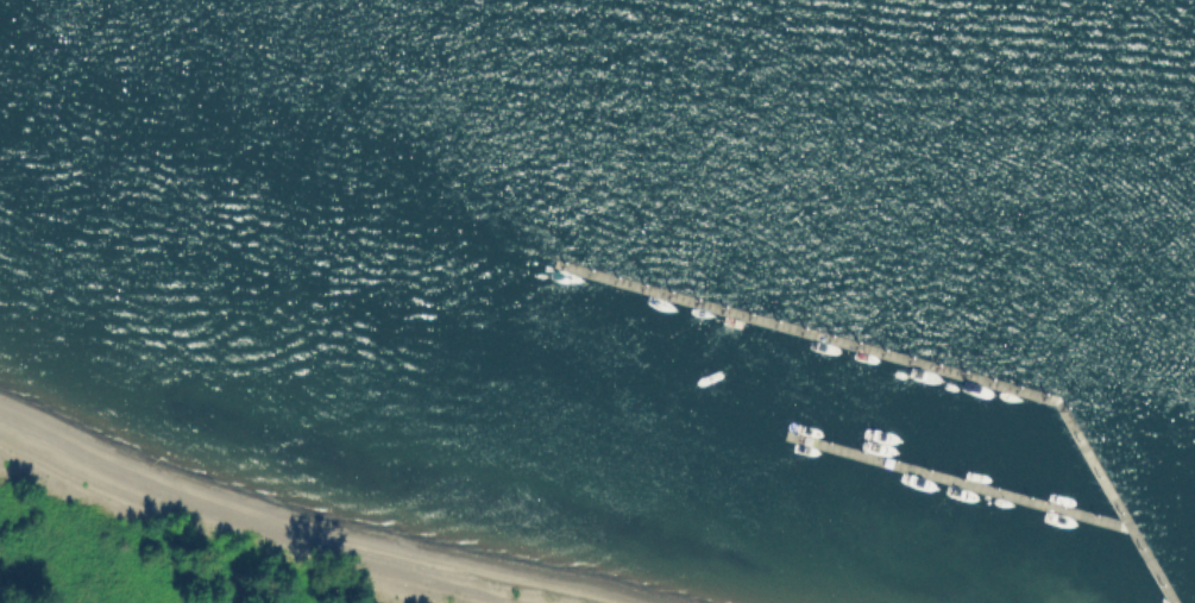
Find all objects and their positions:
pier: (920, 359)
pier: (957, 478)

